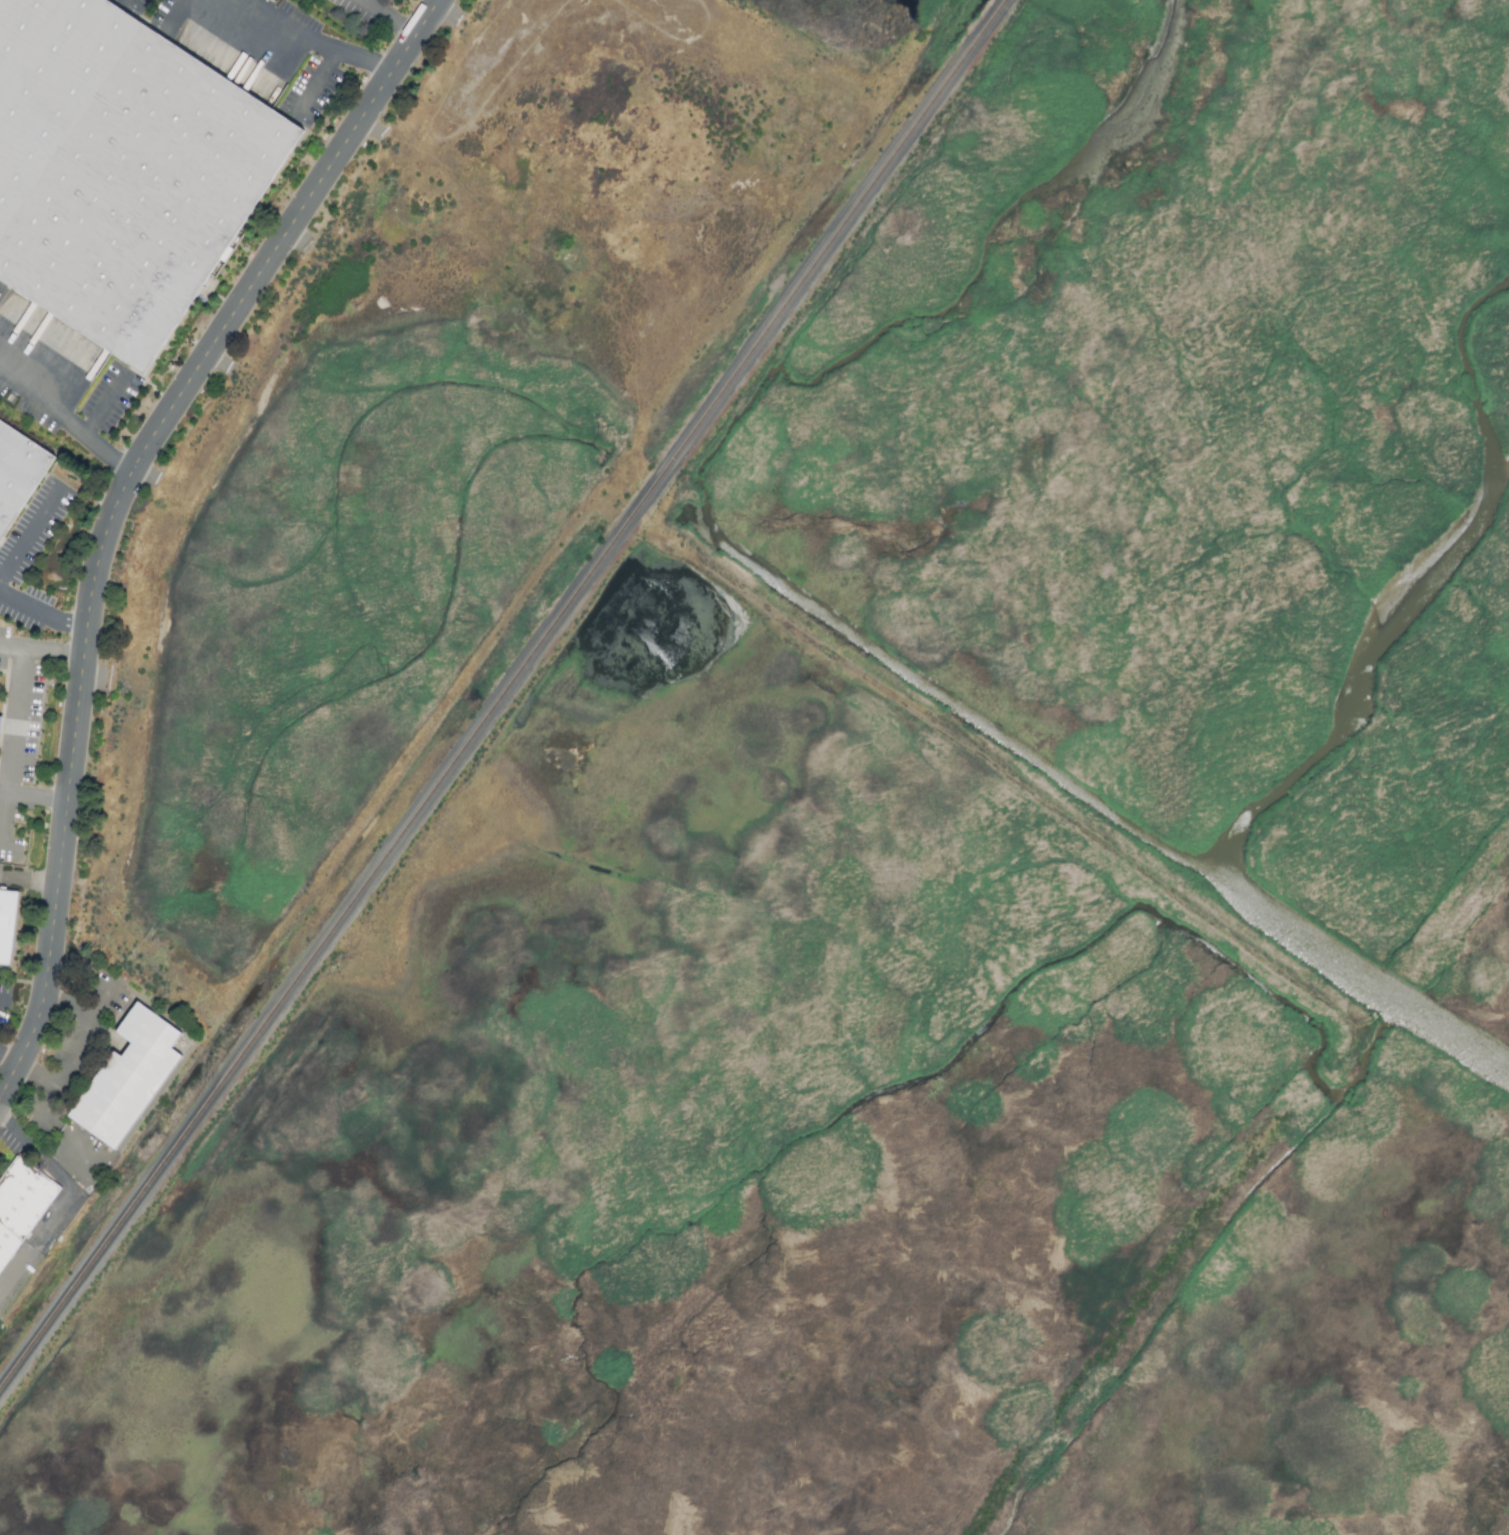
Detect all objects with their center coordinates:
road: (364, 1)
road: (132, 4)
road: (170, 14)
road: (386, 17)
road: (315, 43)
road: (318, 88)
building: (122, 173)
road: (108, 407)
road: (66, 419)
building: (19, 472)
road: (112, 506)
road: (30, 533)
road: (42, 613)
road: (40, 645)
railway: (504, 696)
building: (0, 718)
road: (10, 736)
road: (32, 795)
building: (8, 921)
road: (68, 1008)
road: (67, 1059)
building: (128, 1075)
road: (60, 1130)
road: (64, 1201)
building: (23, 1209)

